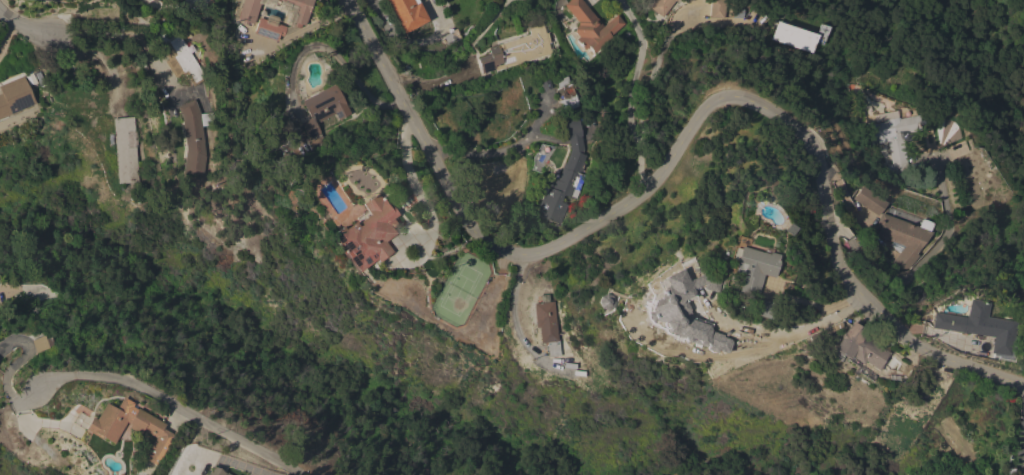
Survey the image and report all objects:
building: (153, 1)
building: (660, 6)
building: (718, 9)
building: (297, 10)
building: (248, 11)
building: (407, 13)
road: (12, 22)
building: (591, 26)
building: (269, 29)
building: (798, 35)
road: (6, 36)
building: (450, 37)
building: (517, 49)
road: (91, 55)
building: (179, 57)
road: (651, 75)
road: (631, 94)
building: (14, 95)
building: (566, 97)
building: (321, 113)
building: (194, 136)
building: (893, 138)
road: (495, 148)
road: (680, 148)
building: (125, 149)
building: (283, 160)
building: (564, 178)
road: (417, 190)
building: (868, 200)
building: (367, 235)
building: (903, 237)
building: (752, 268)
road: (22, 291)
building: (605, 301)
building: (756, 307)
building: (686, 313)
building: (1023, 317)
building: (547, 326)
building: (980, 327)
road: (778, 332)
building: (41, 343)
building: (859, 346)
road: (171, 407)
building: (130, 427)
road: (1020, 436)
building: (214, 471)

